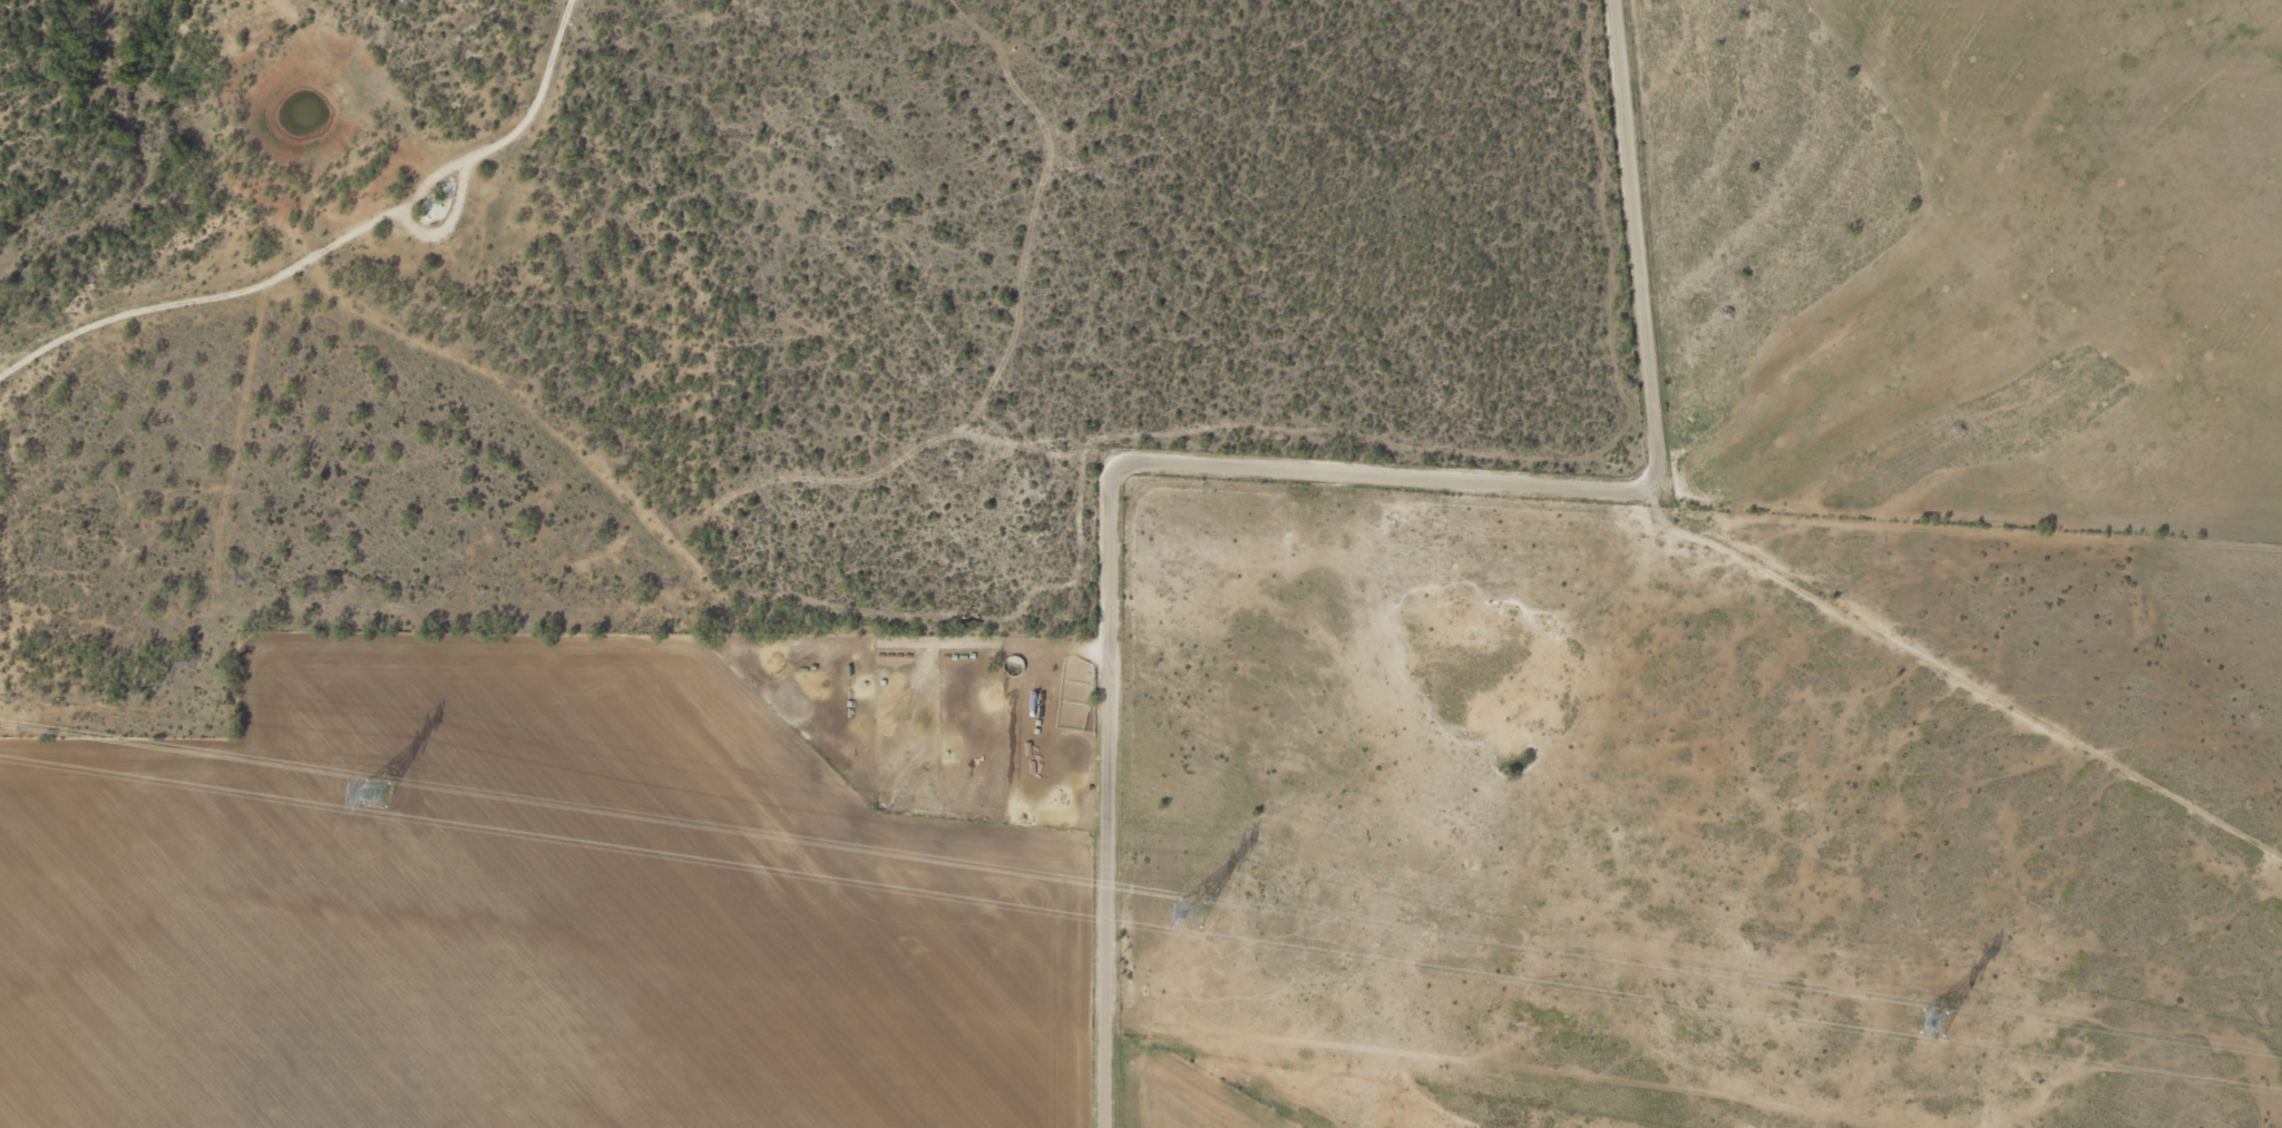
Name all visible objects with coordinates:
road: (1657, 230)
road: (363, 253)
road: (17, 342)
road: (17, 395)
road: (1181, 558)
power tower: (373, 794)
power tower: (1188, 912)
power tower: (1931, 1023)

